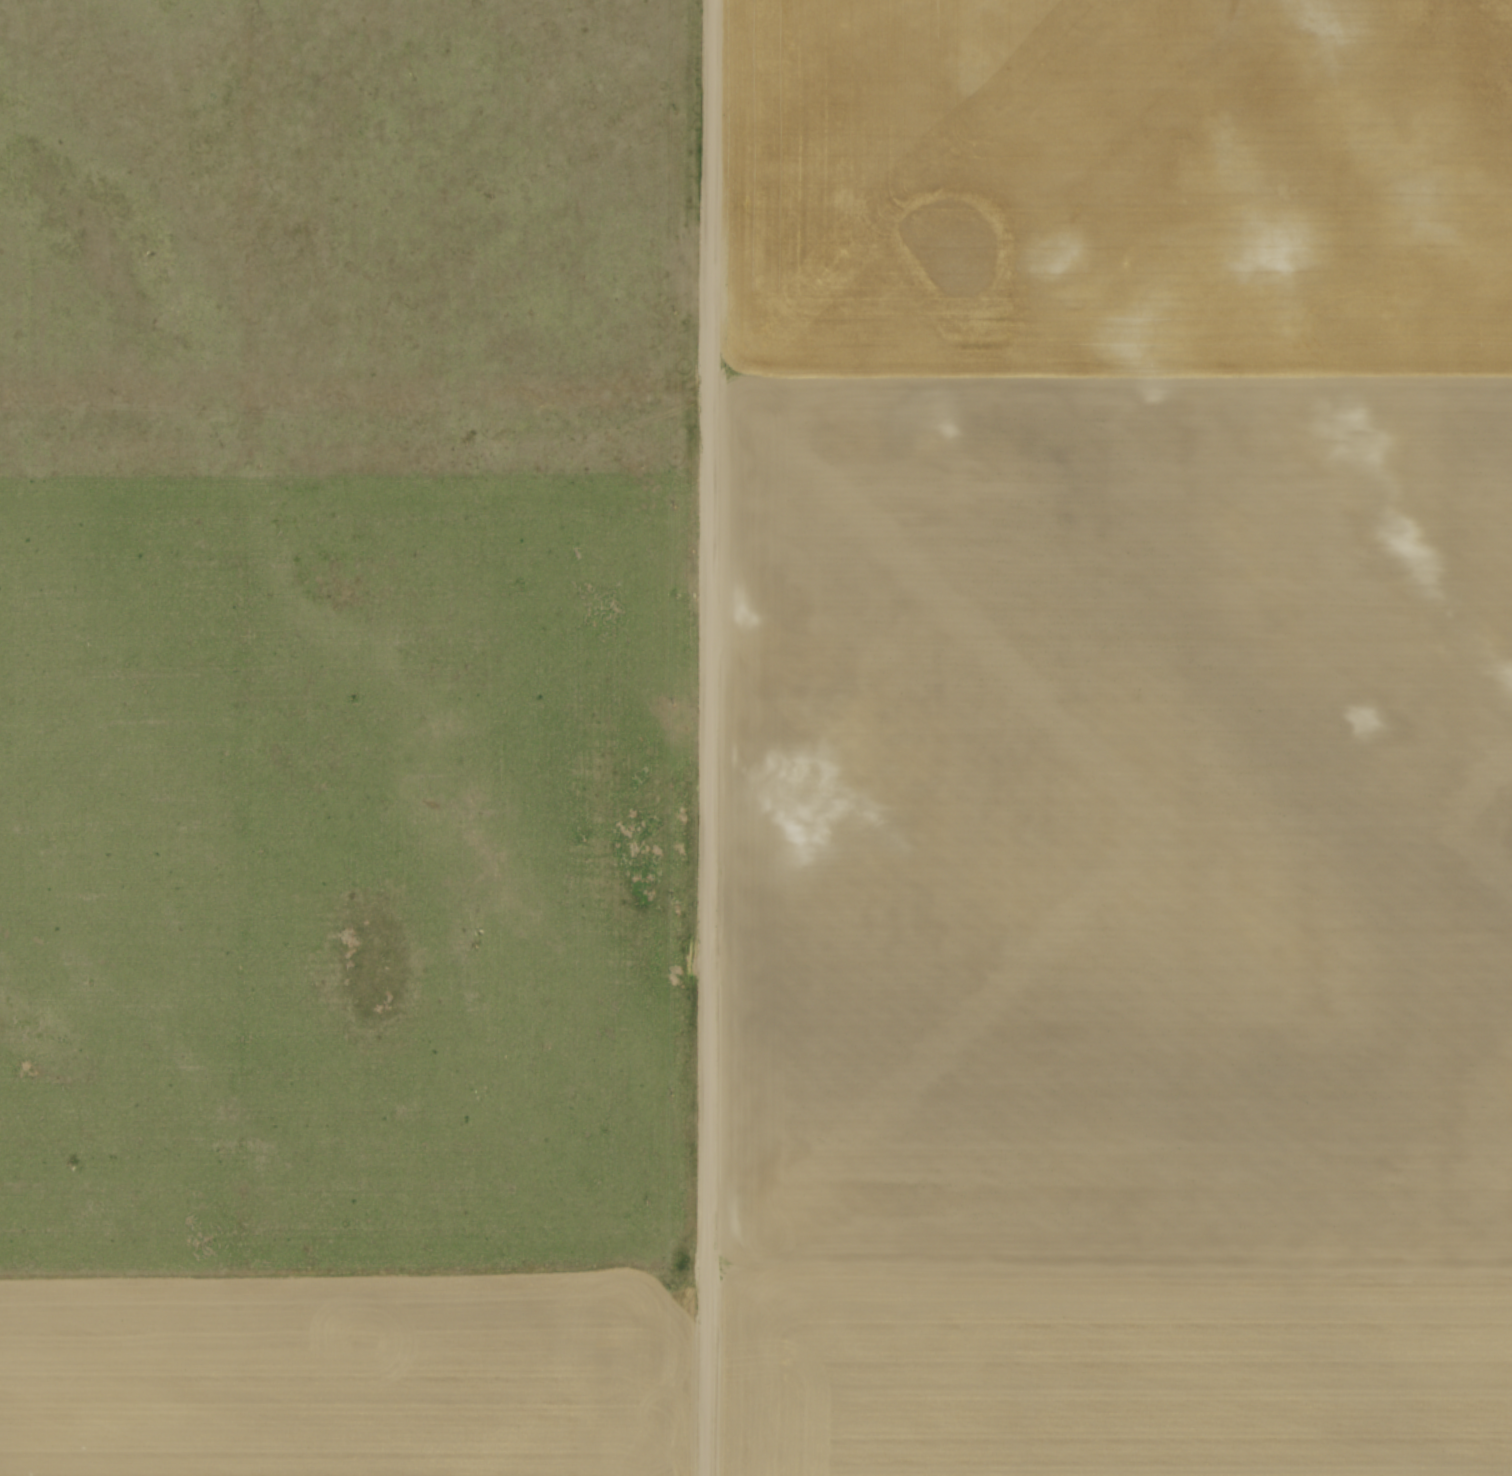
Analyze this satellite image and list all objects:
road: (708, 738)
crop: (1116, 738)
crop: (345, 1374)

